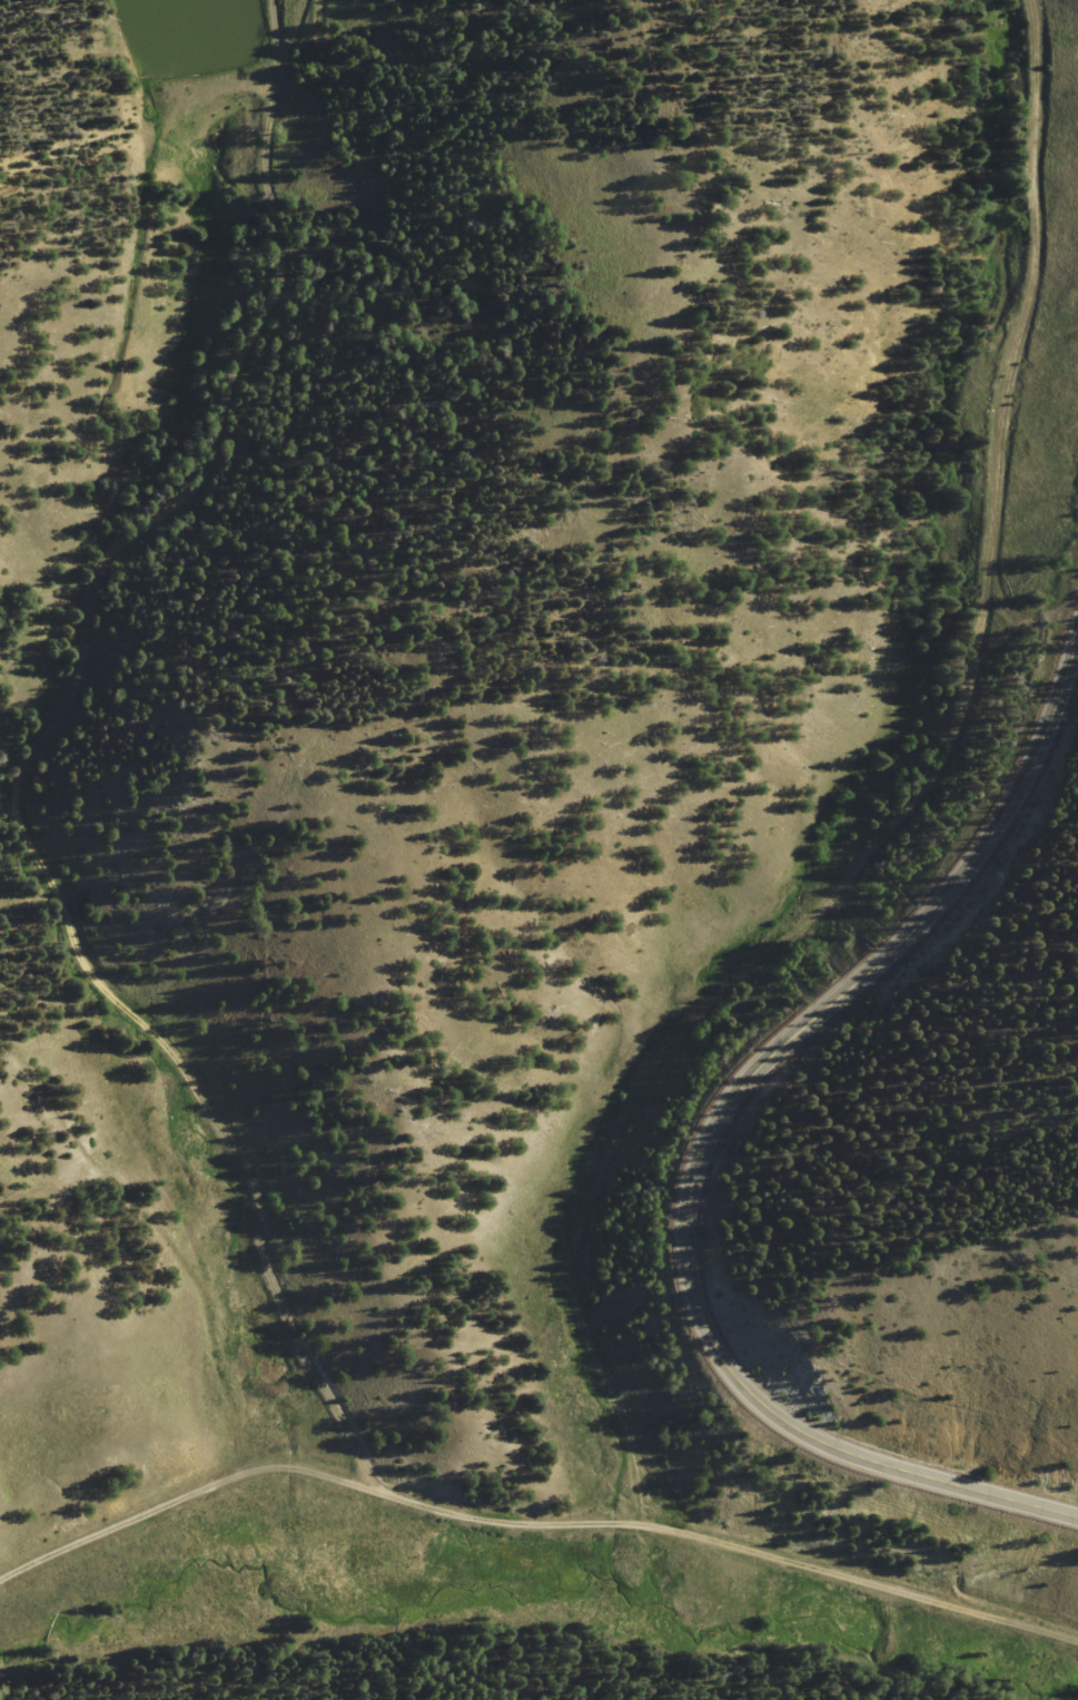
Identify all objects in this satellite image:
road: (96, 743)
road: (896, 814)
road: (708, 1131)
road: (532, 1524)

